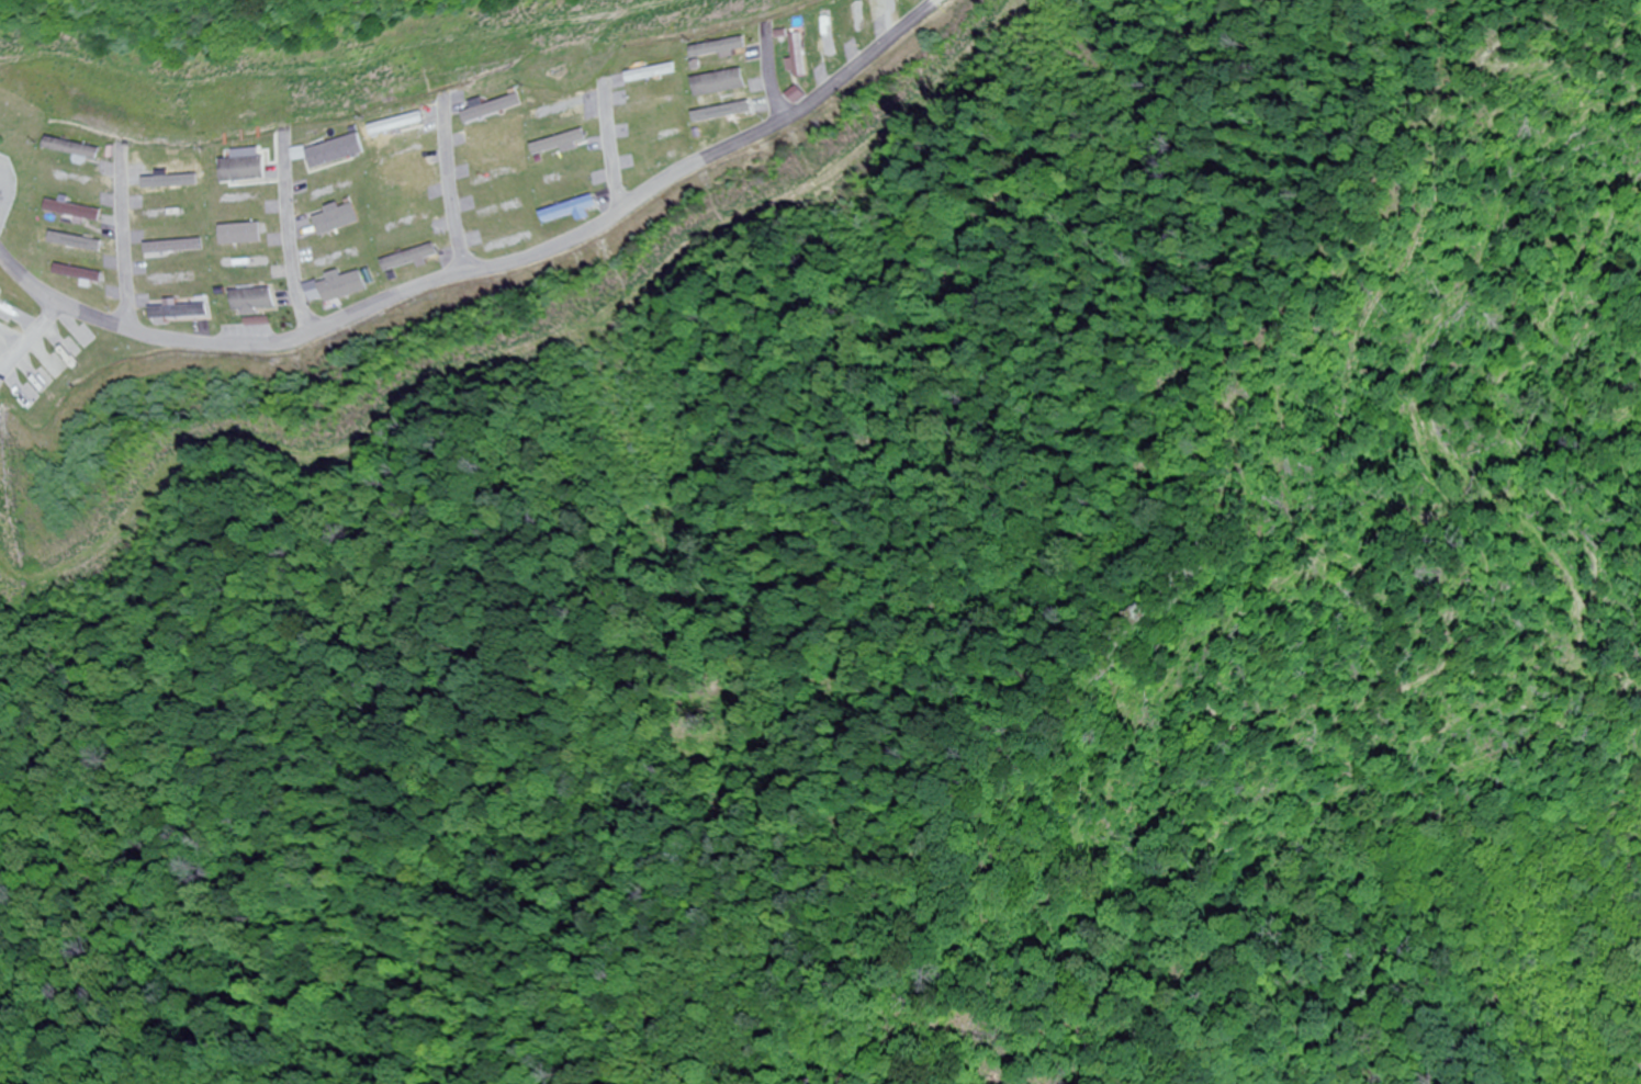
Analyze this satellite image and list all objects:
road: (3, 191)

